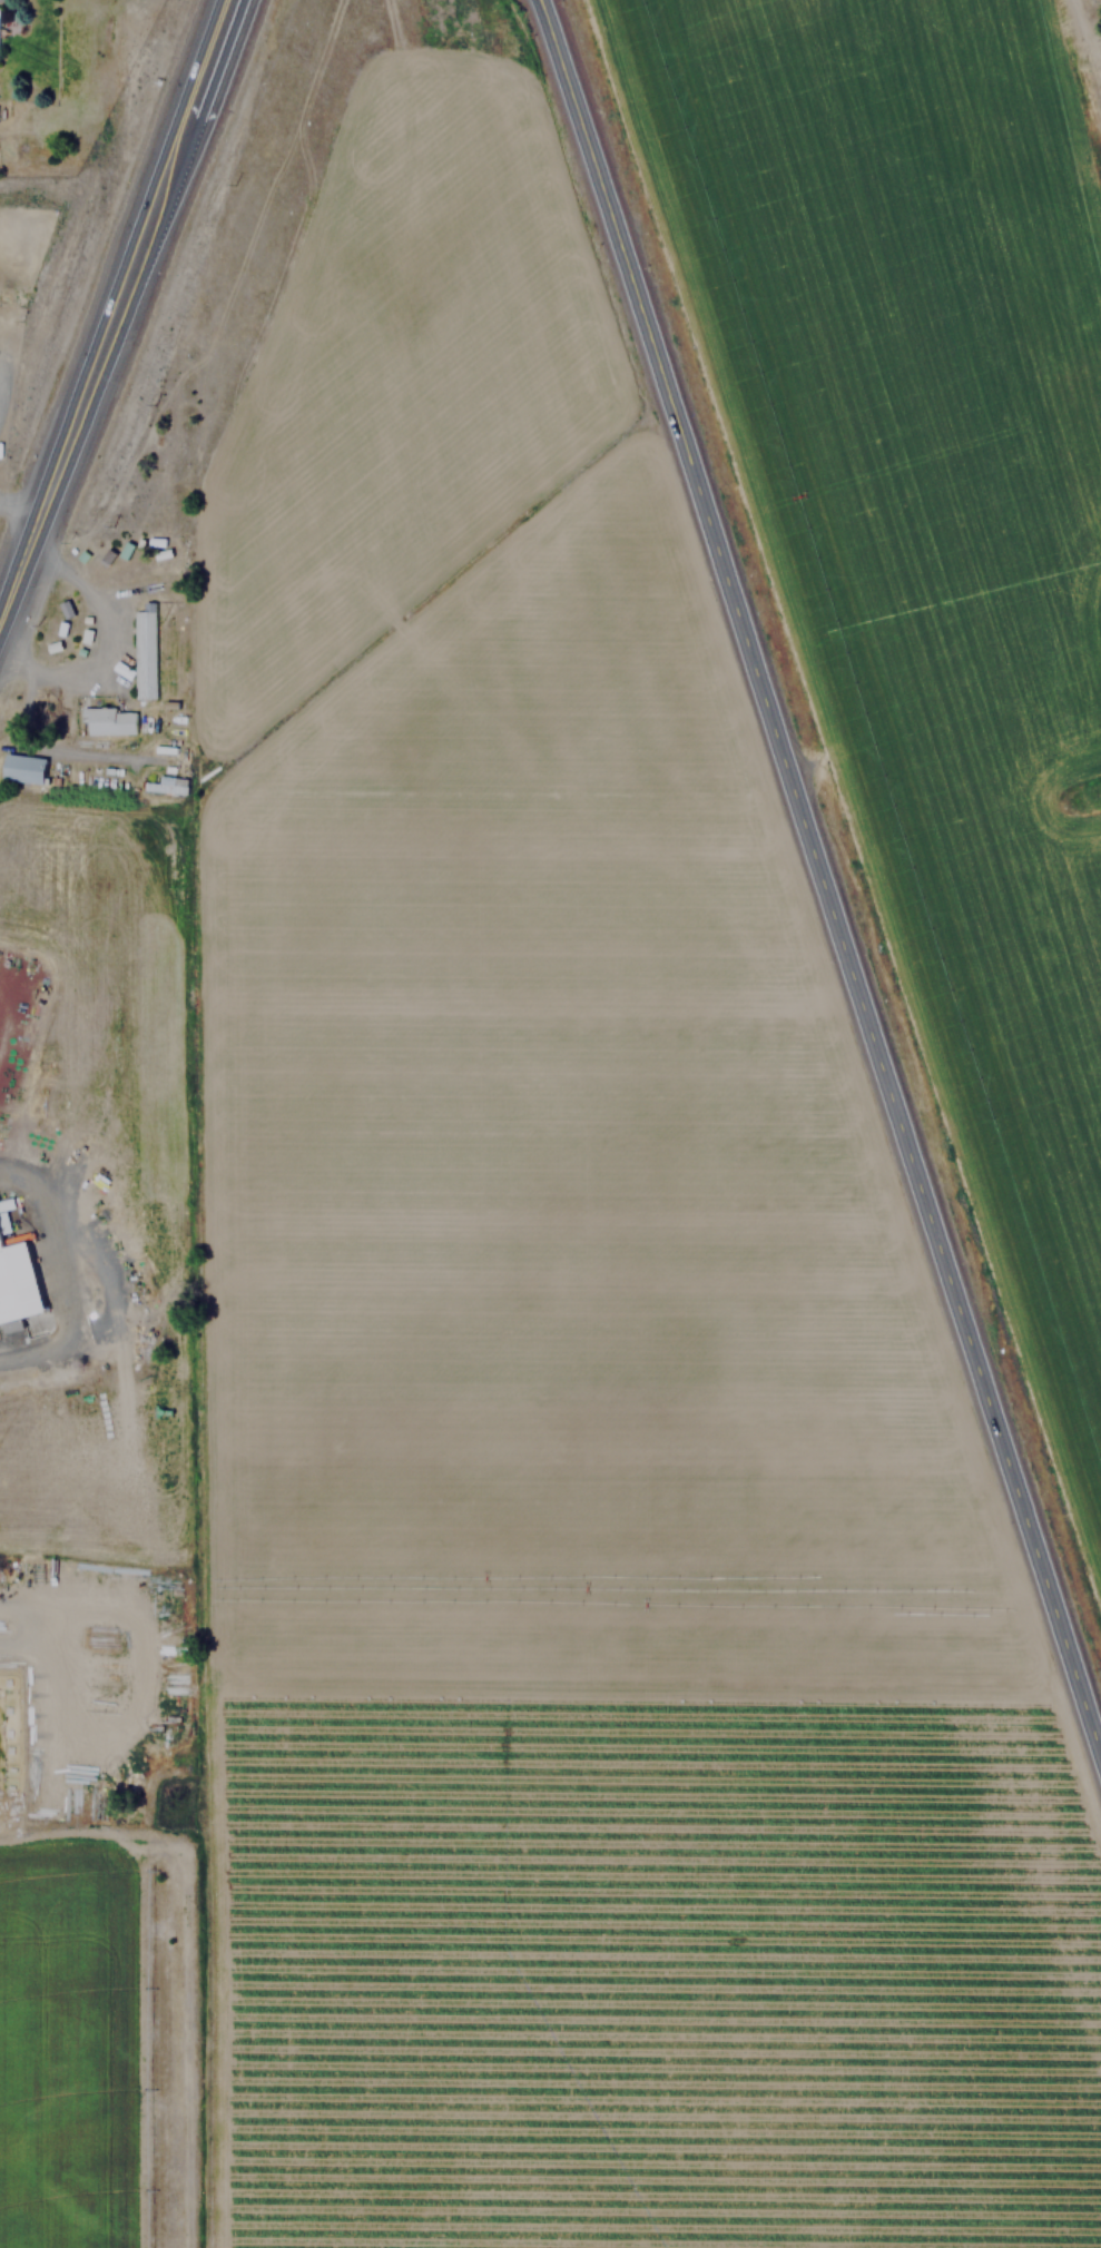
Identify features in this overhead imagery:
road: (115, 308)
road: (20, 509)
building: (66, 608)
building: (142, 650)
building: (108, 720)
building: (22, 768)
building: (165, 785)
road: (818, 878)
road: (73, 1270)
building: (16, 1271)
crop: (382, 2069)

